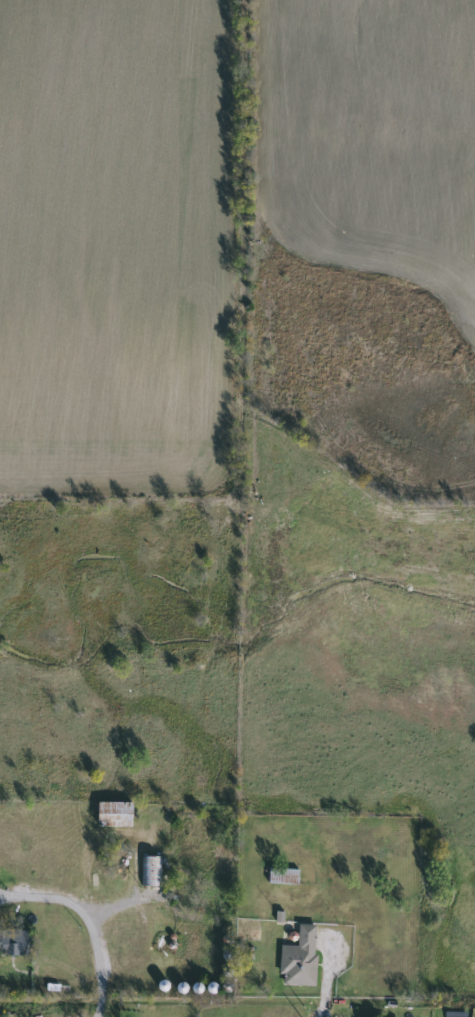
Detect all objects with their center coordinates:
building: (111, 819)
building: (188, 866)
building: (116, 869)
building: (150, 871)
building: (282, 876)
road: (49, 892)
building: (13, 943)
building: (298, 958)
road: (99, 968)
road: (322, 1007)

